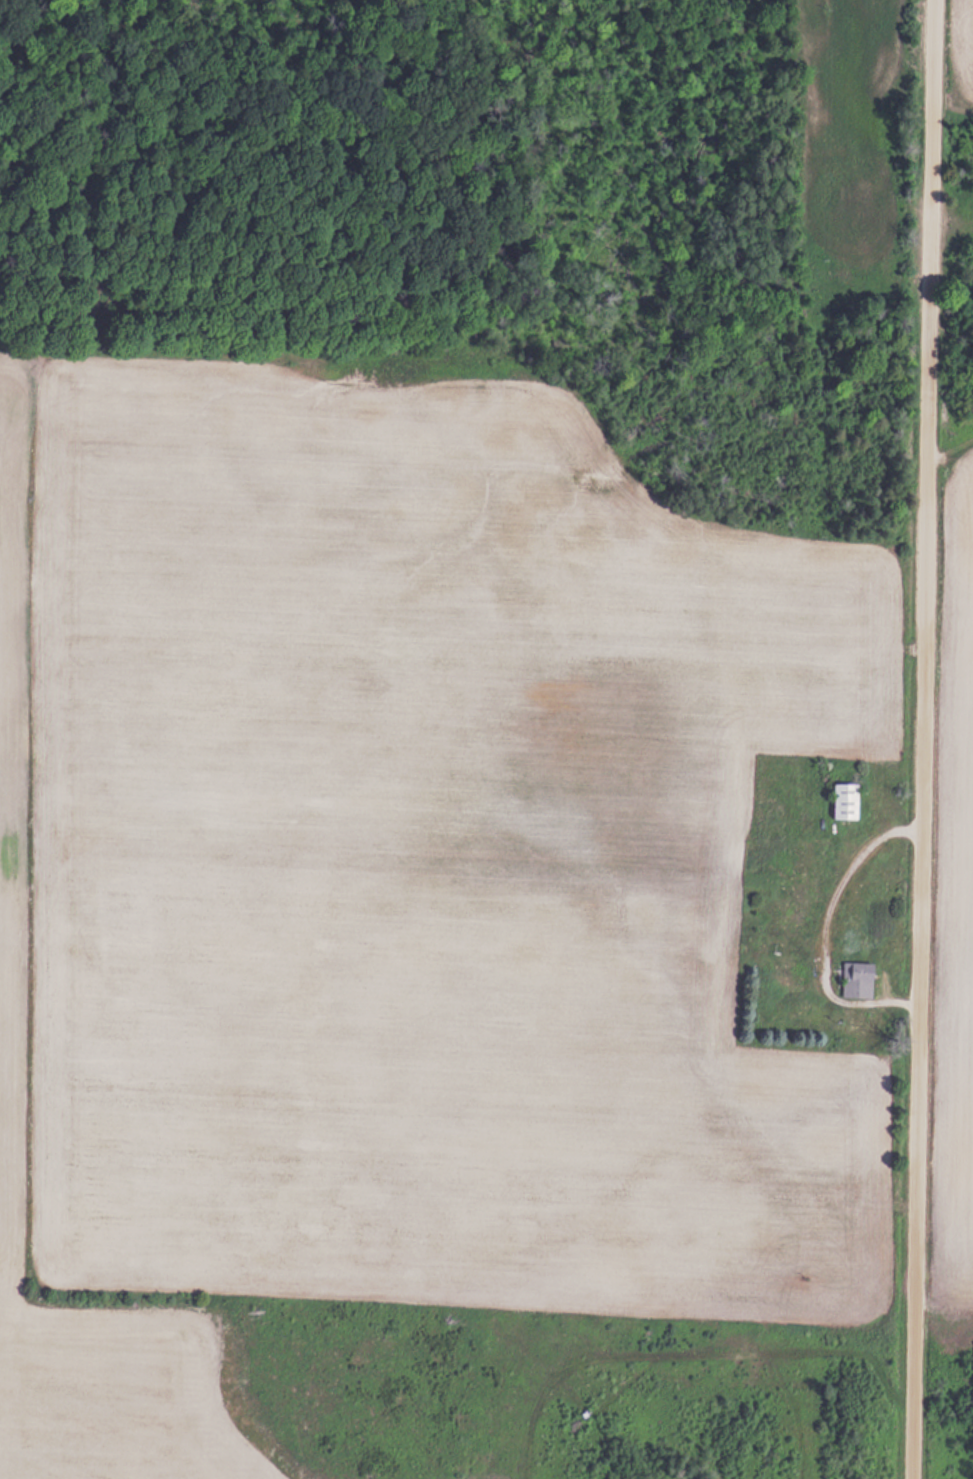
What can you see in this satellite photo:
road: (927, 739)
building: (847, 799)
building: (857, 979)

